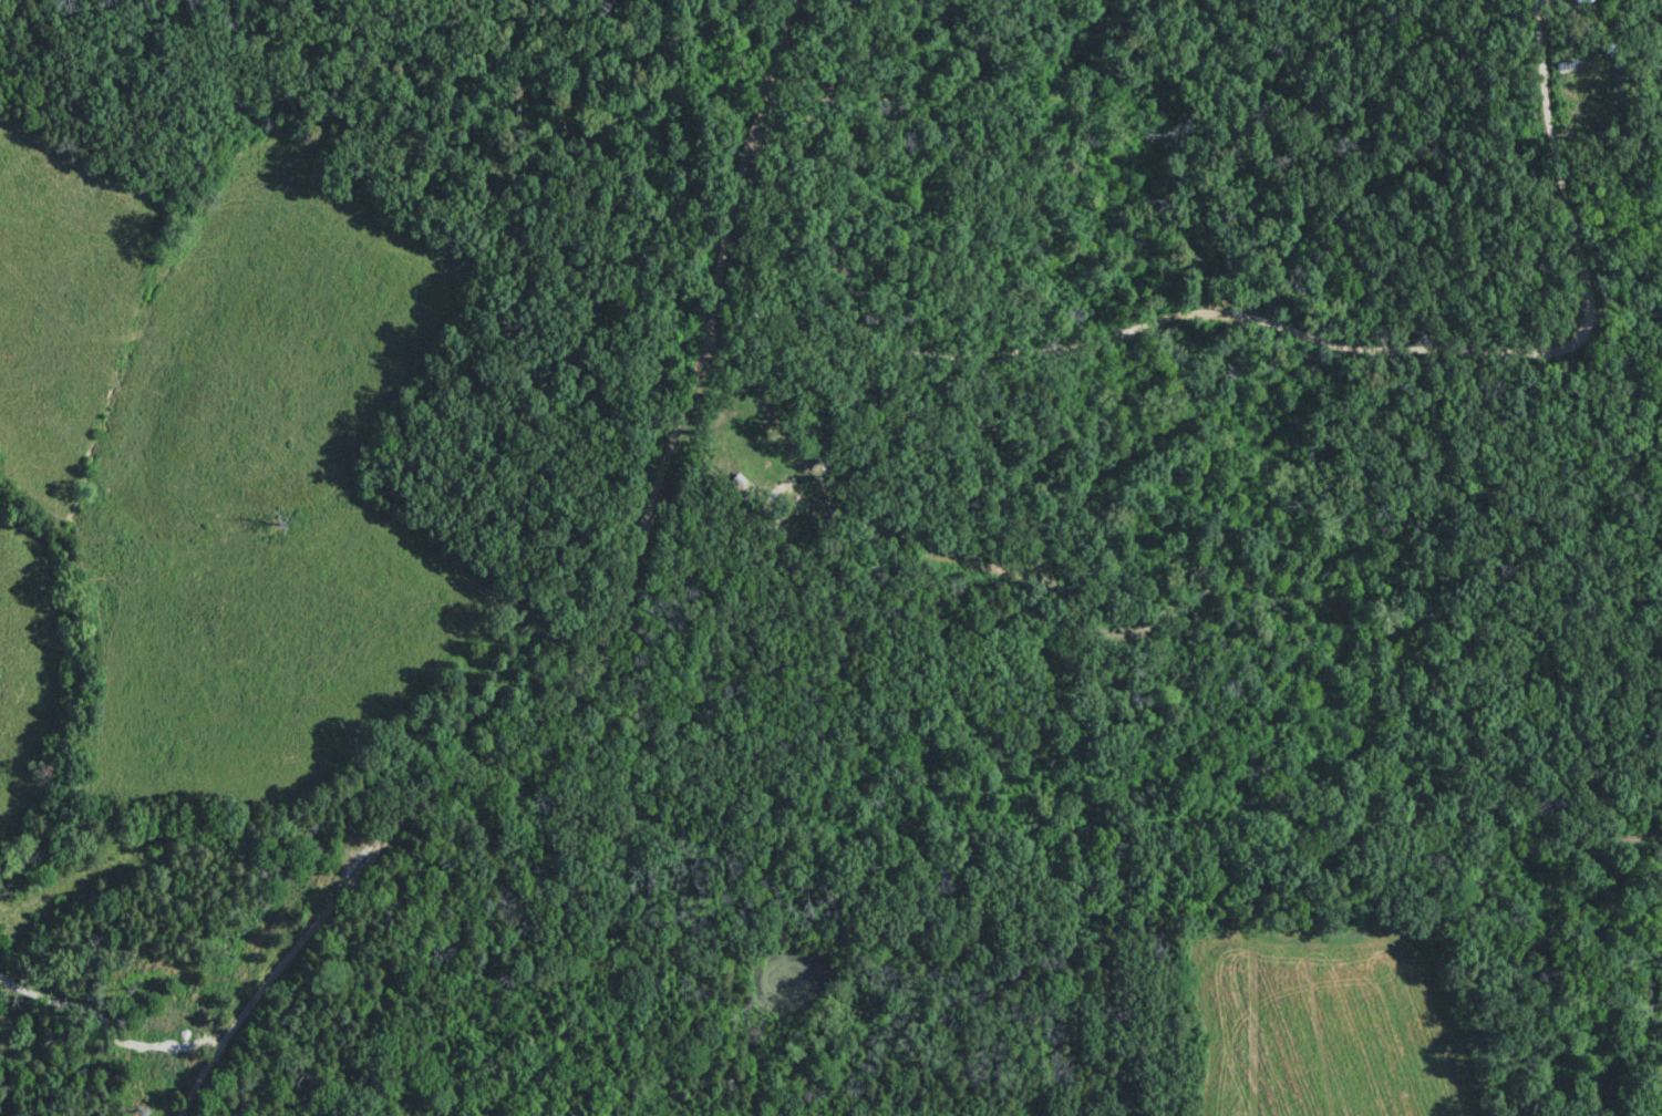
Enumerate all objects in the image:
road: (1277, 322)
road: (605, 630)

